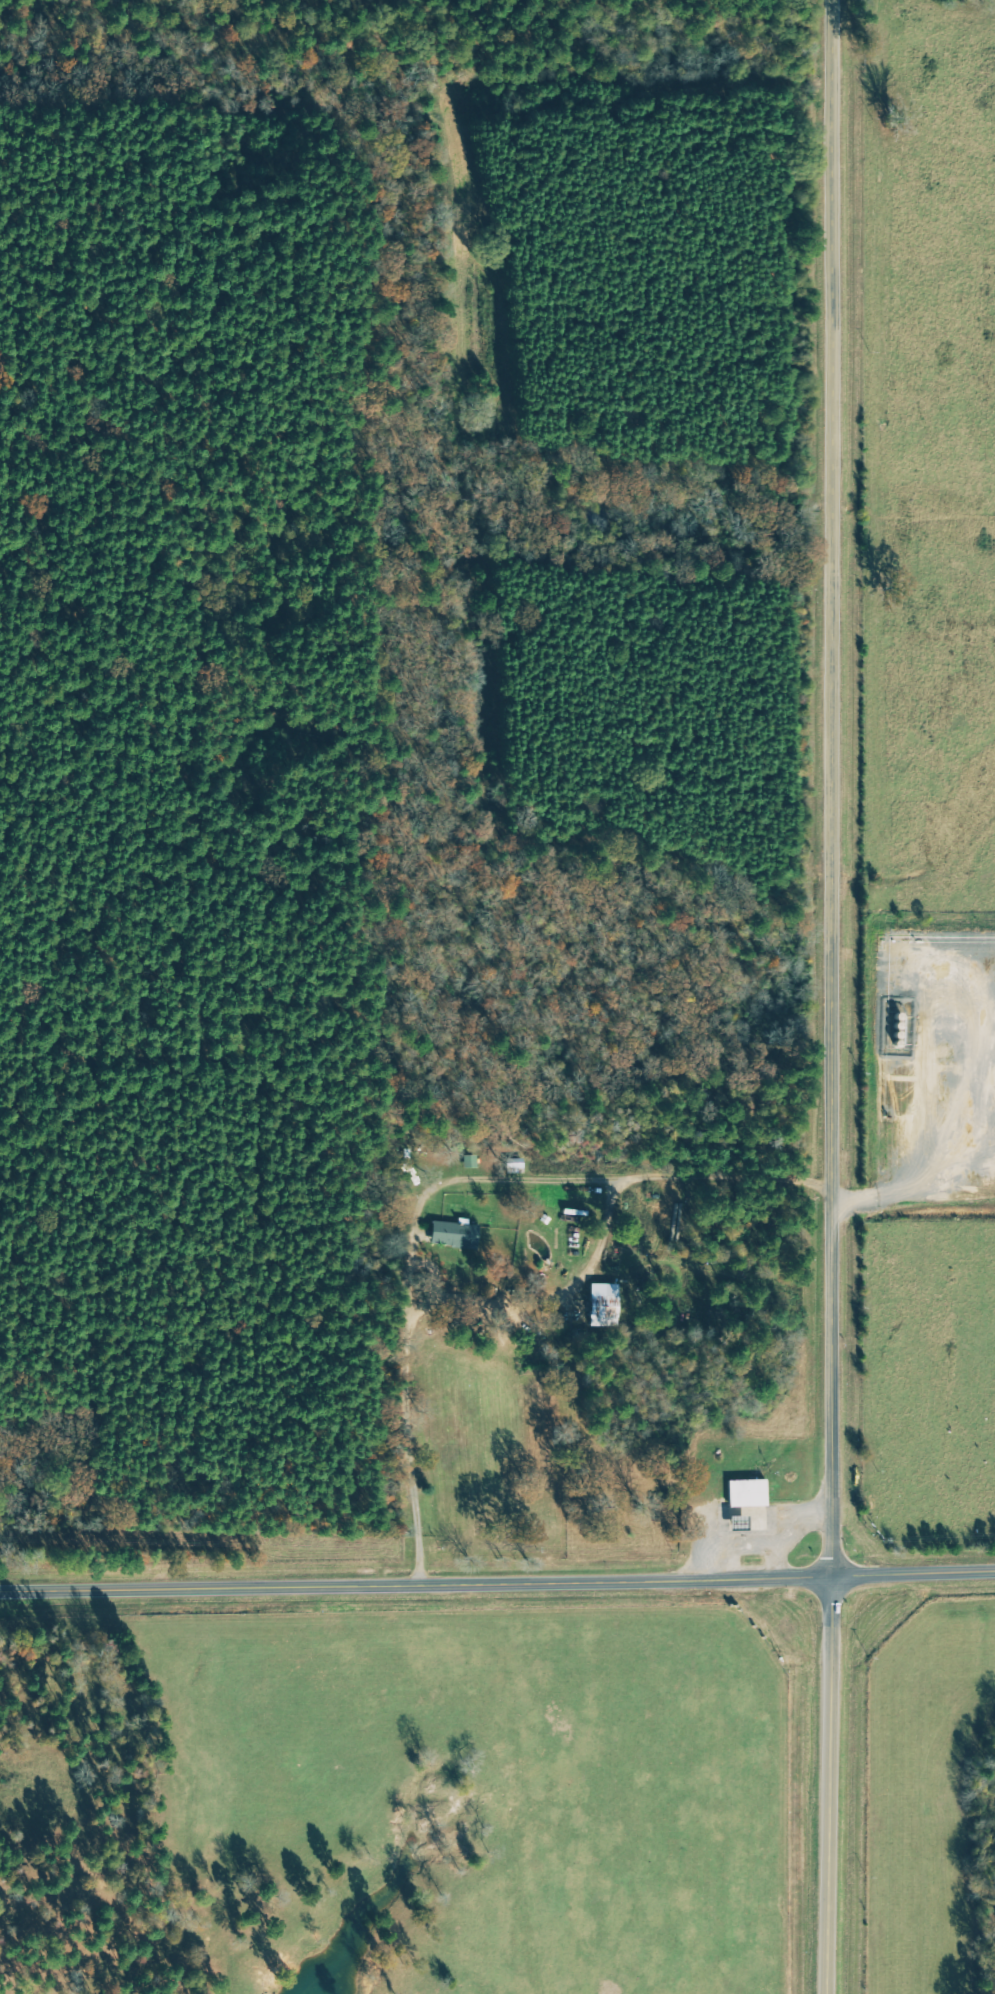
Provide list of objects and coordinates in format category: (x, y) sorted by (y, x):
road: (832, 788)
building: (453, 1235)
building: (603, 1306)
building: (746, 1494)
road: (497, 1584)
road: (828, 1785)

